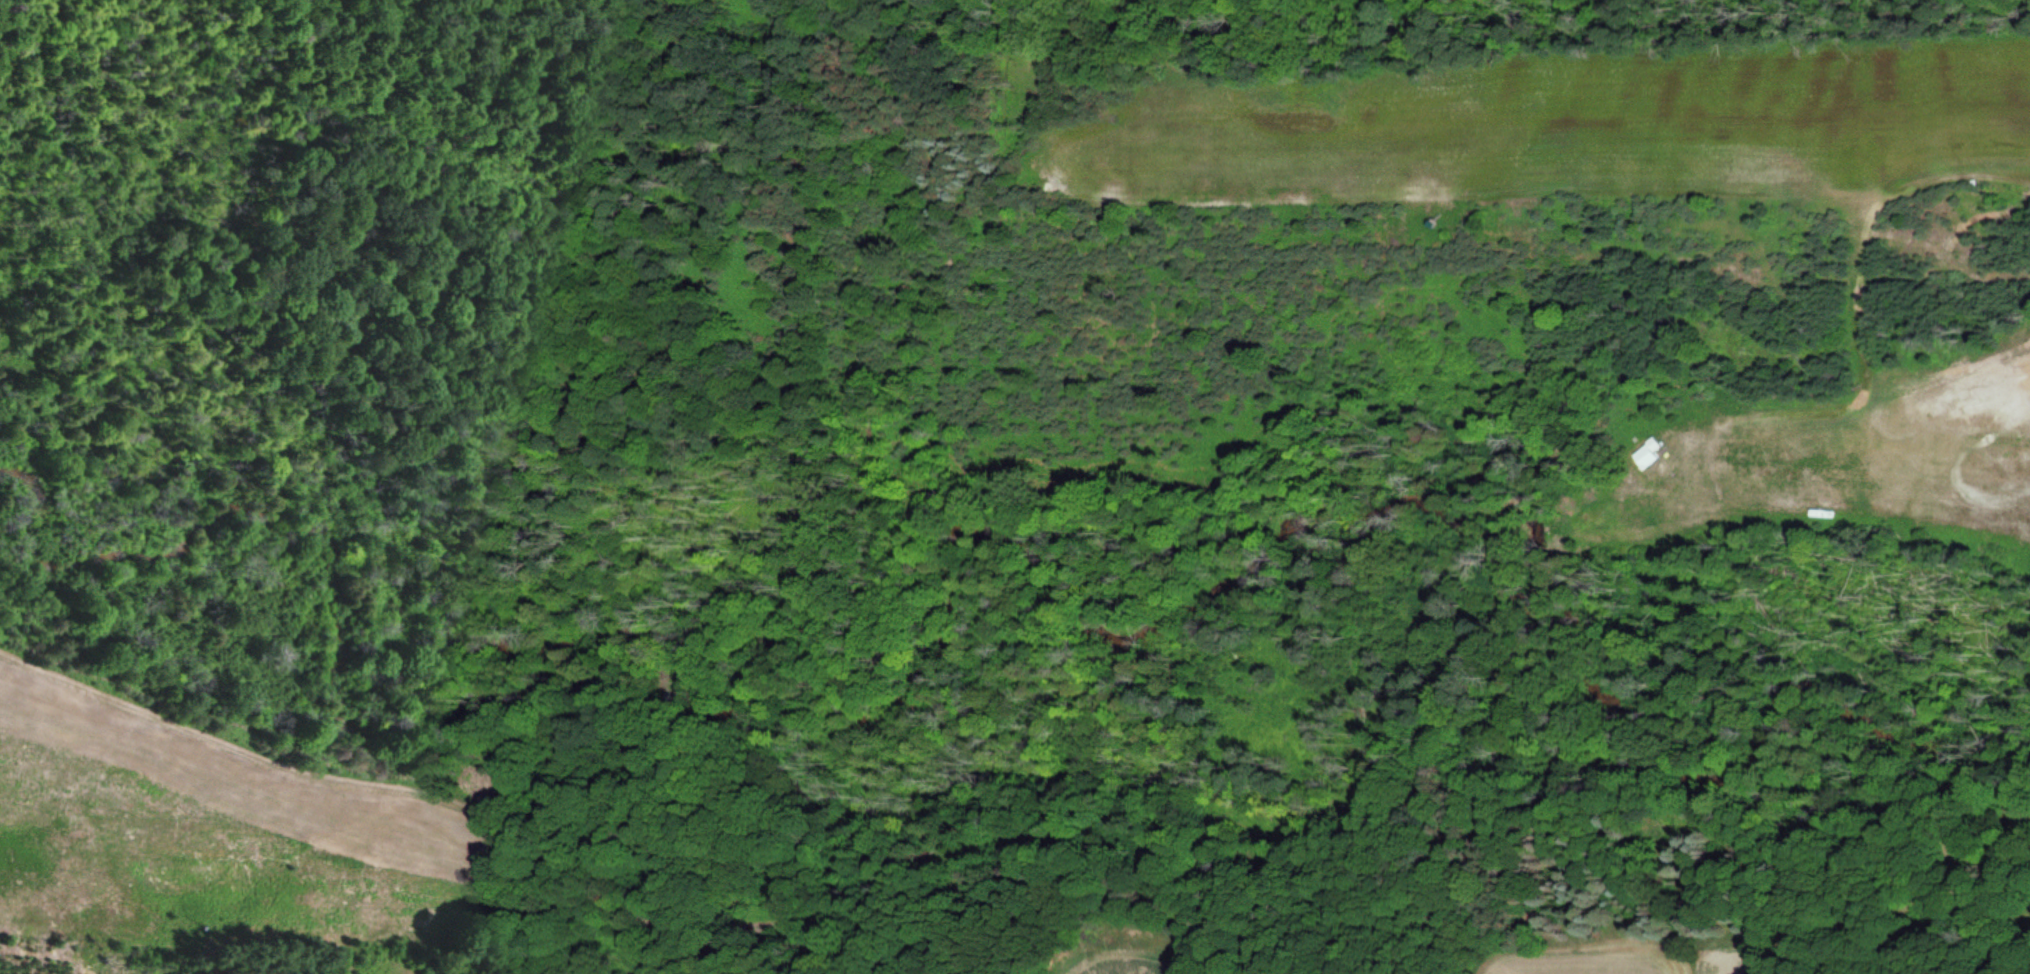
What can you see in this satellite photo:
building: (1691, 490)

